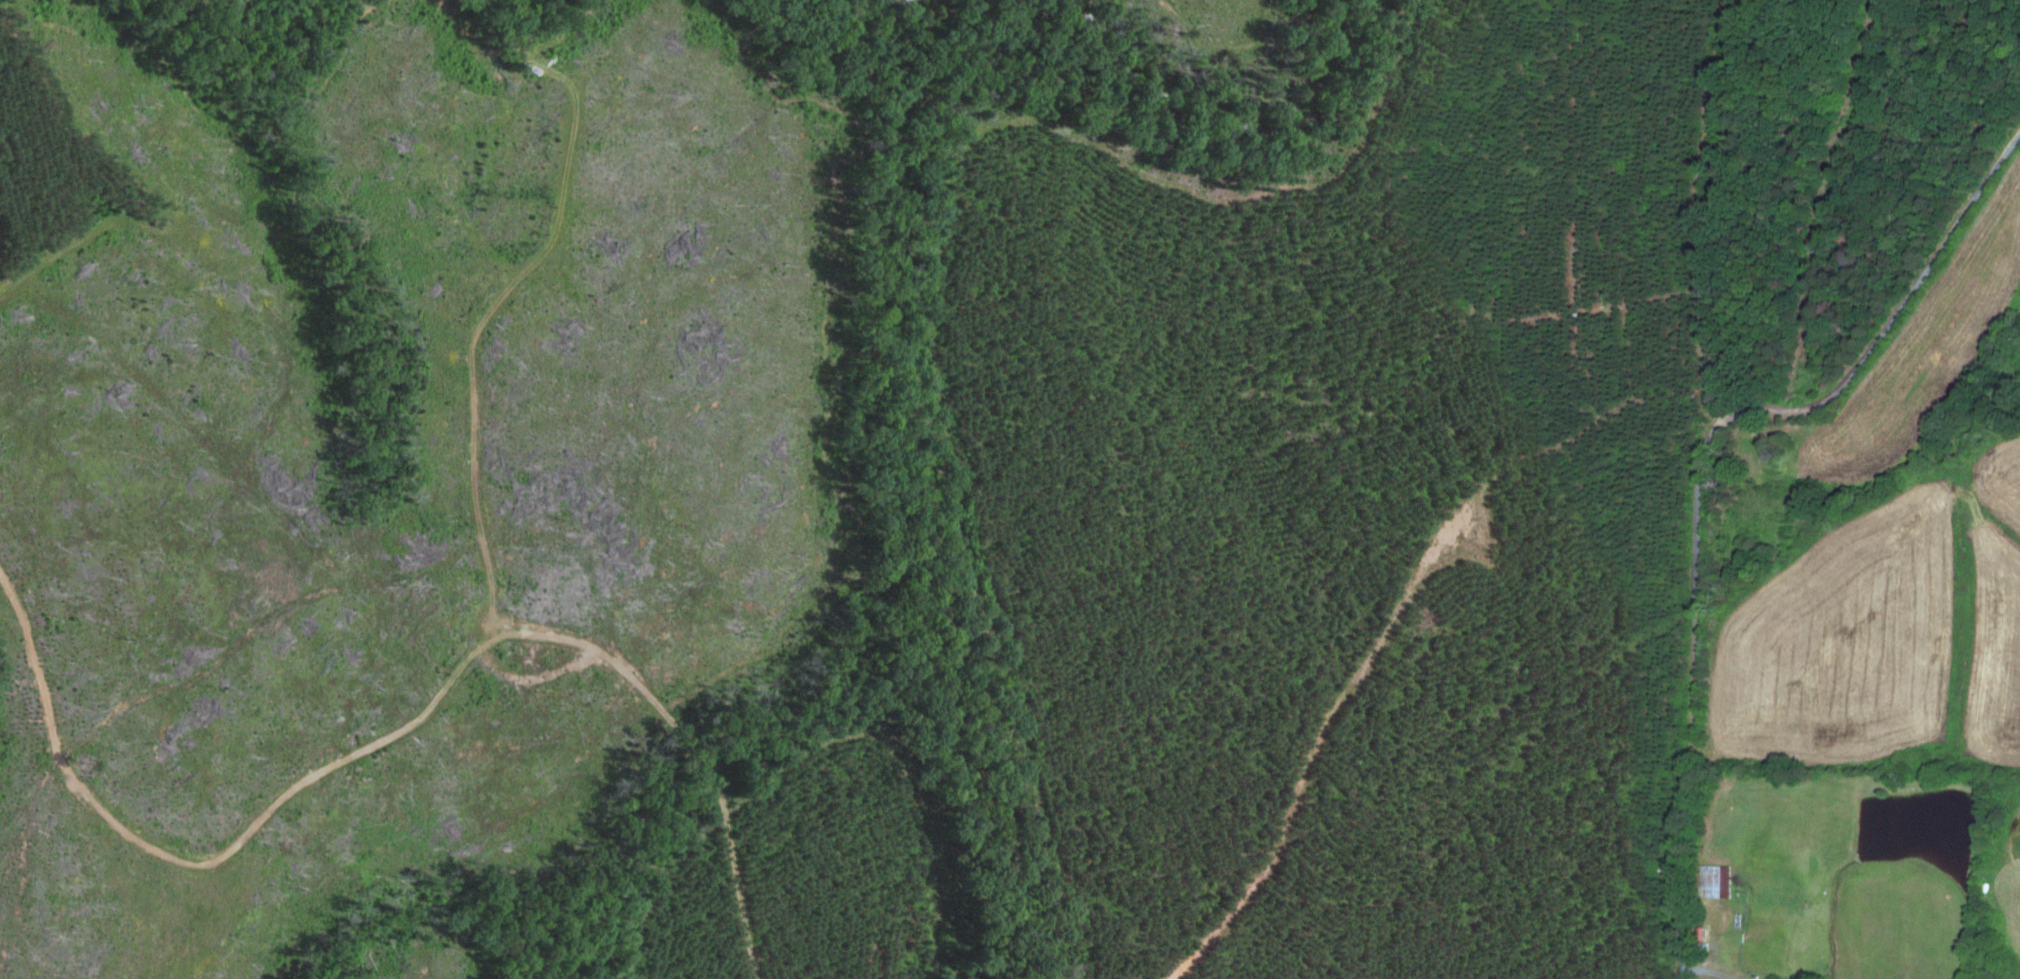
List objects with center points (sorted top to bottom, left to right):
road: (1698, 463)
building: (1722, 880)

